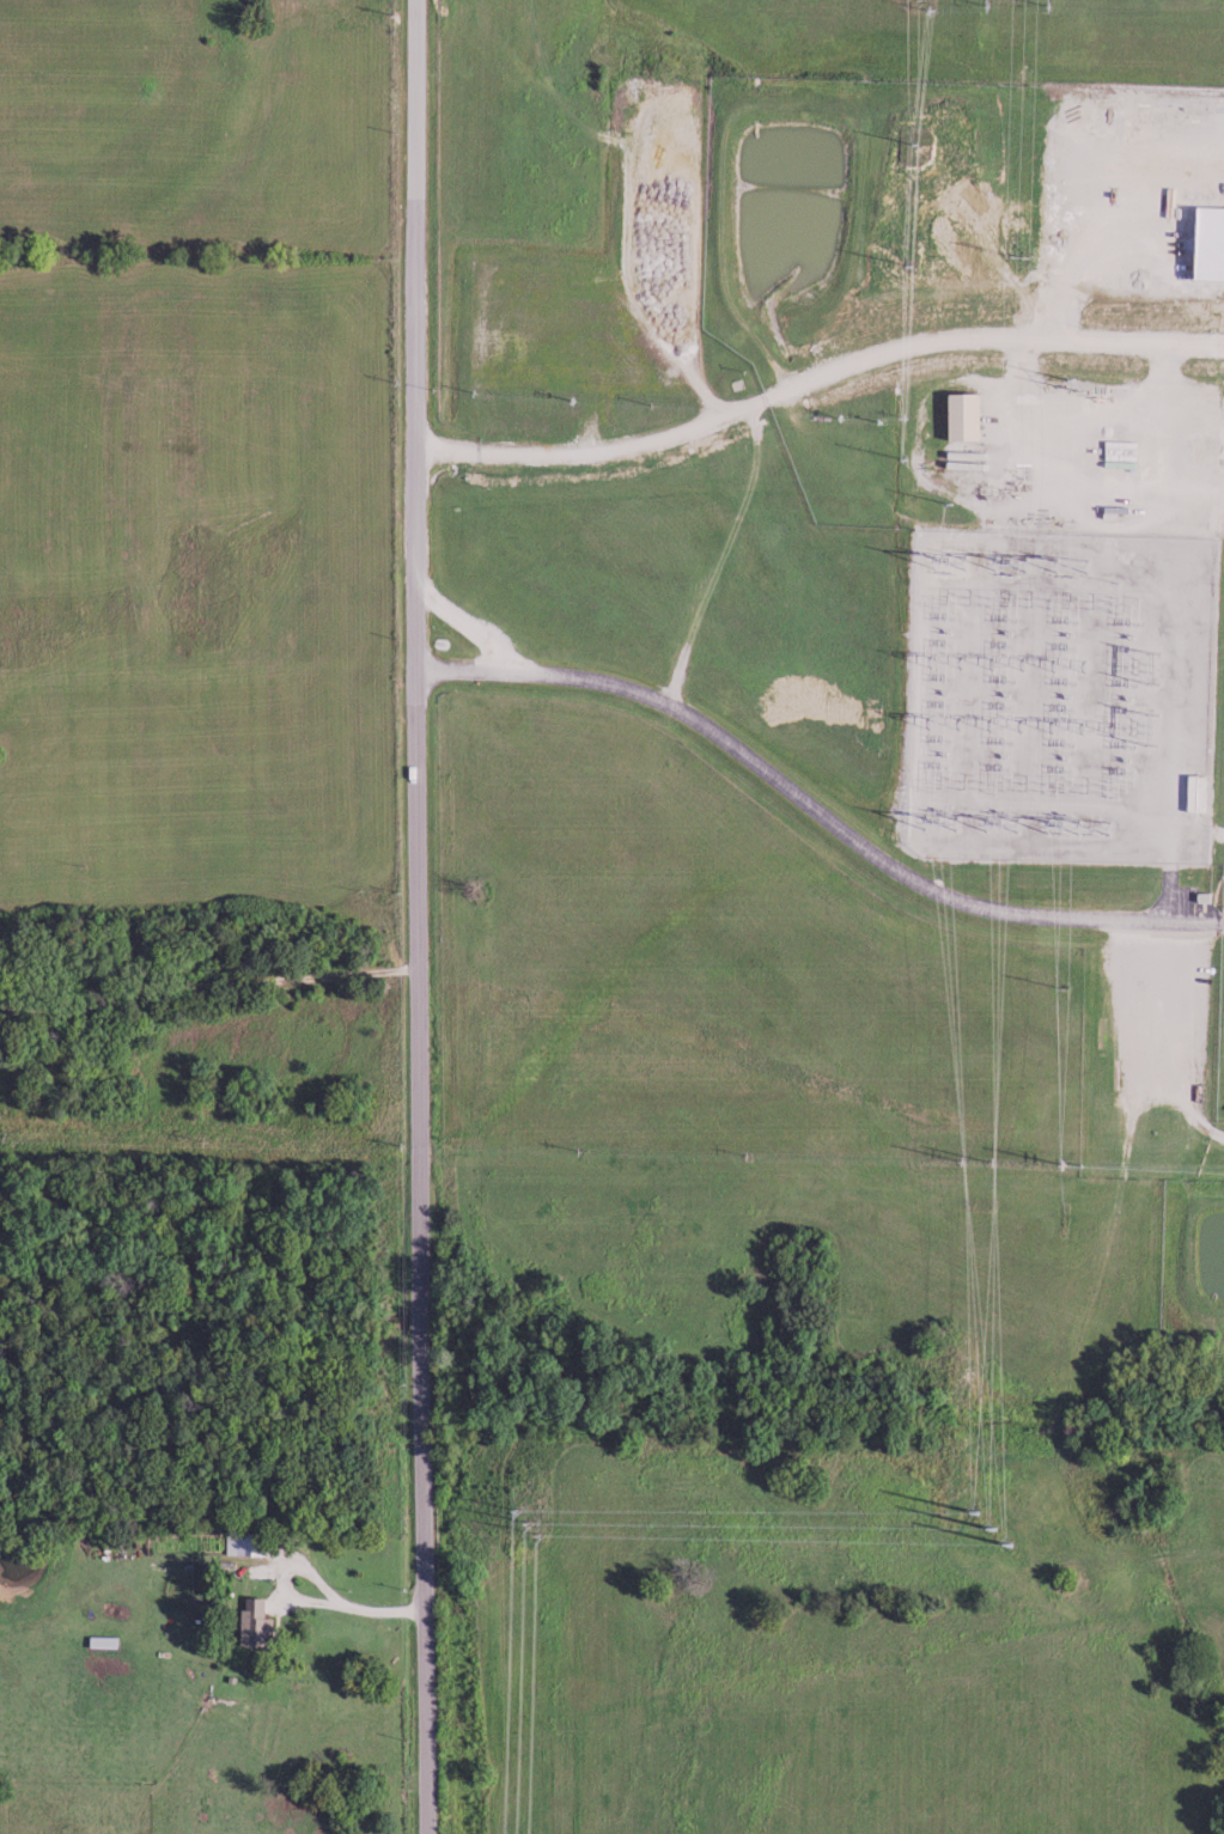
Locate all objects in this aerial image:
road: (1119, 229)
road: (992, 336)
building: (956, 415)
building: (1206, 444)
road: (598, 452)
road: (474, 622)
road: (416, 678)
power substation: (1060, 699)
power plant: (842, 719)
road: (814, 810)
road: (1223, 926)
building: (248, 1542)
road: (424, 1595)
road: (347, 1605)
building: (260, 1622)

